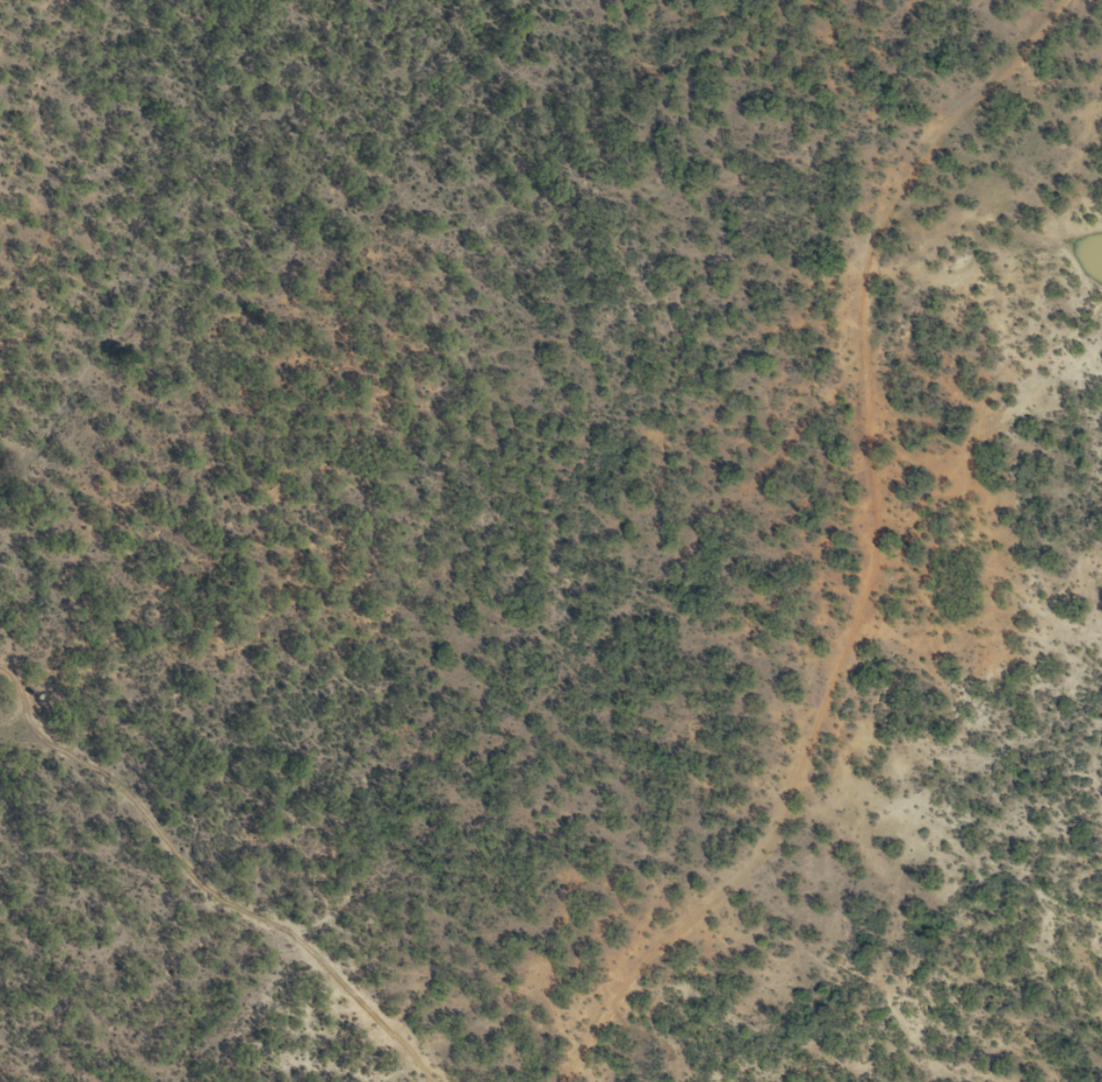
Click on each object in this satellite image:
road: (870, 552)

